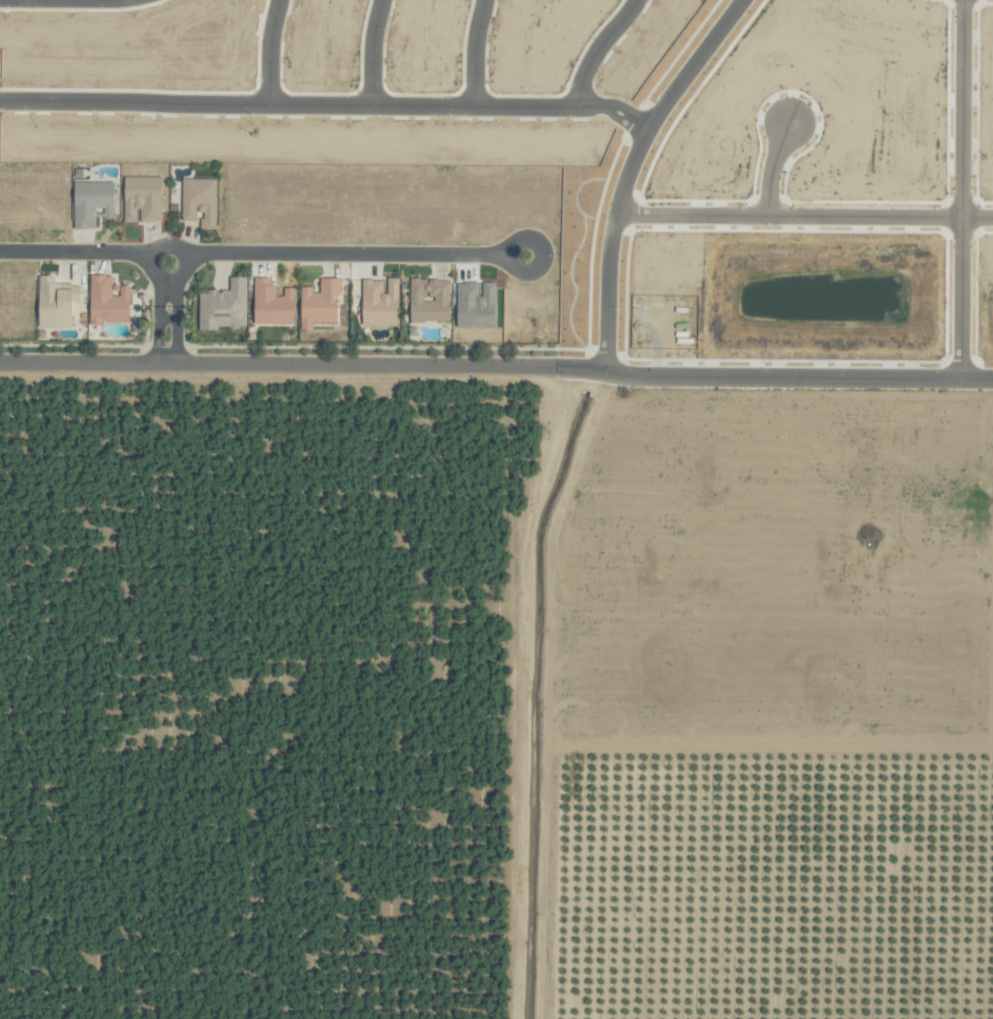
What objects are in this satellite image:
road: (20, 0)
road: (267, 52)
road: (371, 52)
road: (596, 52)
road: (472, 53)
road: (323, 105)
road: (626, 170)
road: (959, 190)
building: (200, 202)
building: (93, 203)
road: (802, 218)
road: (158, 248)
road: (74, 253)
road: (542, 253)
road: (342, 256)
building: (109, 300)
building: (430, 300)
building: (380, 302)
building: (55, 303)
building: (321, 303)
building: (273, 304)
building: (224, 306)
road: (156, 324)
road: (178, 324)
road: (496, 368)
crop: (495, 701)

